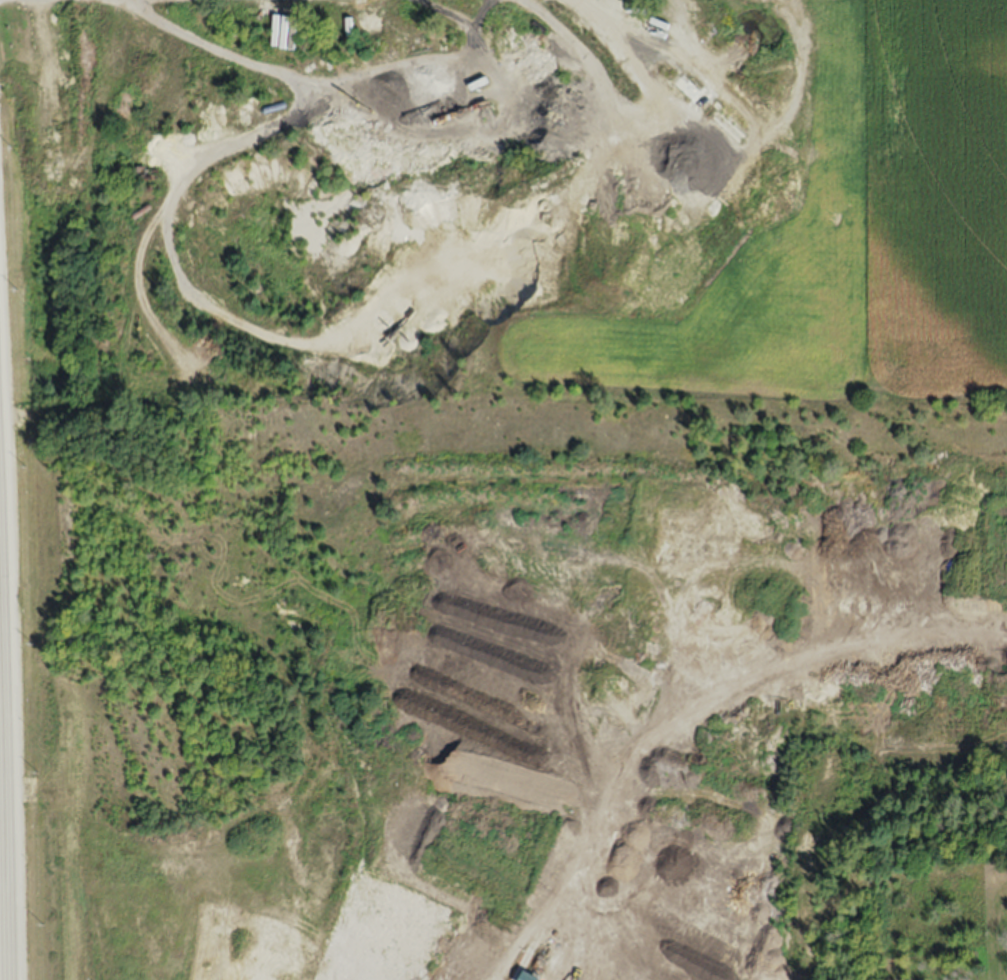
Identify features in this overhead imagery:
quarry: (466, 500)
building: (526, 977)

